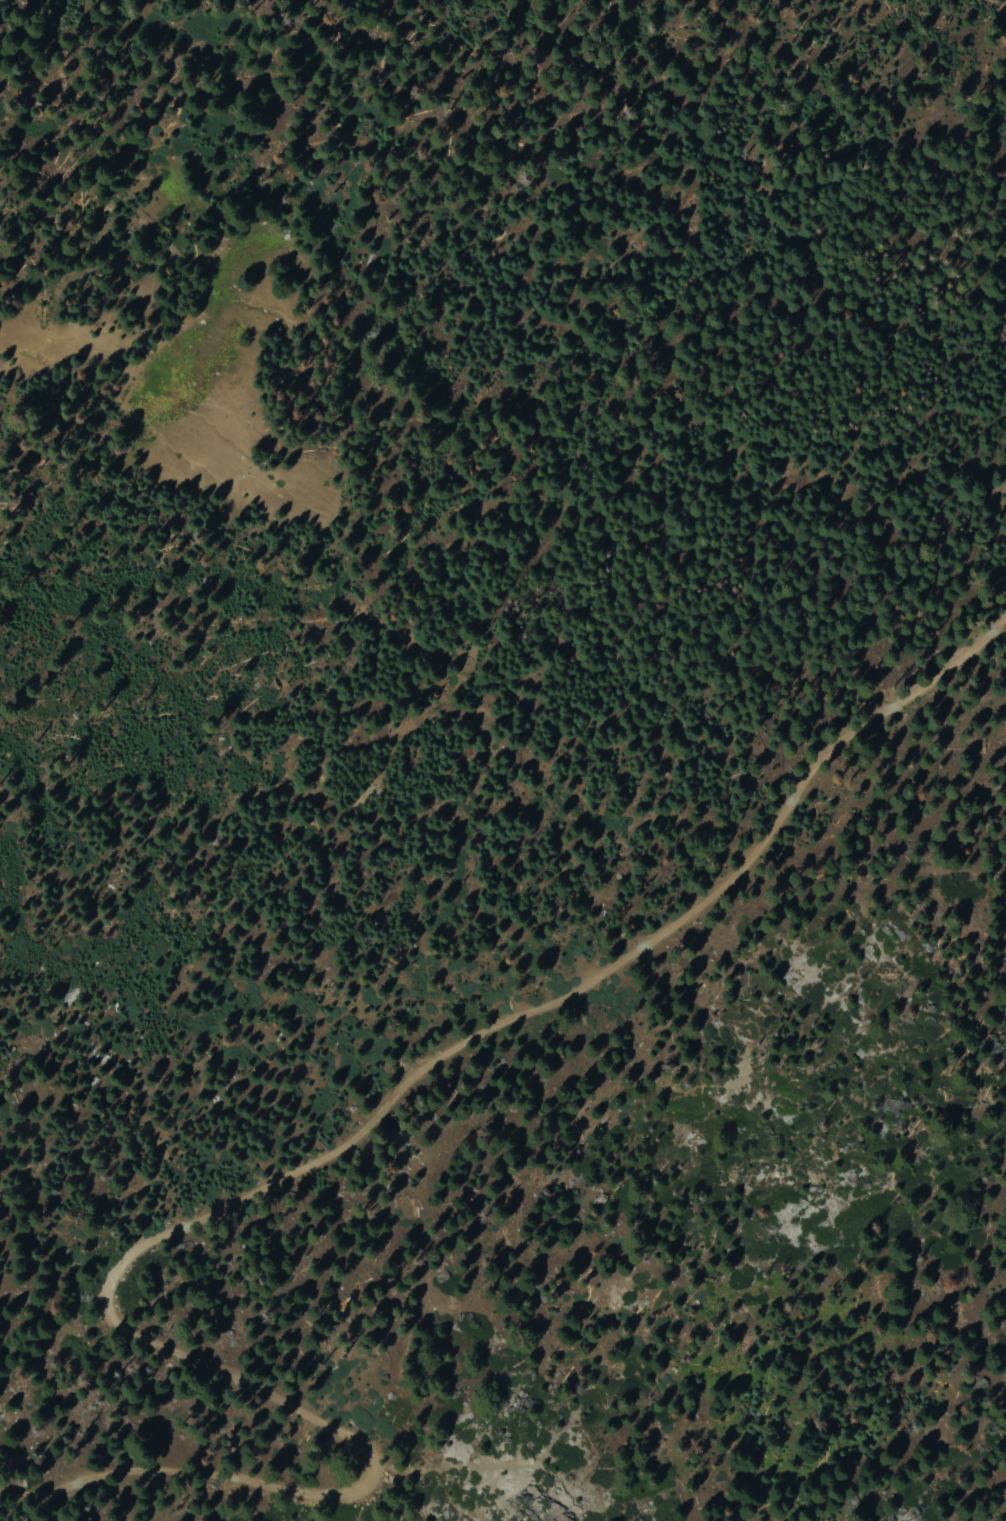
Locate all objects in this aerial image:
road: (284, 1215)

